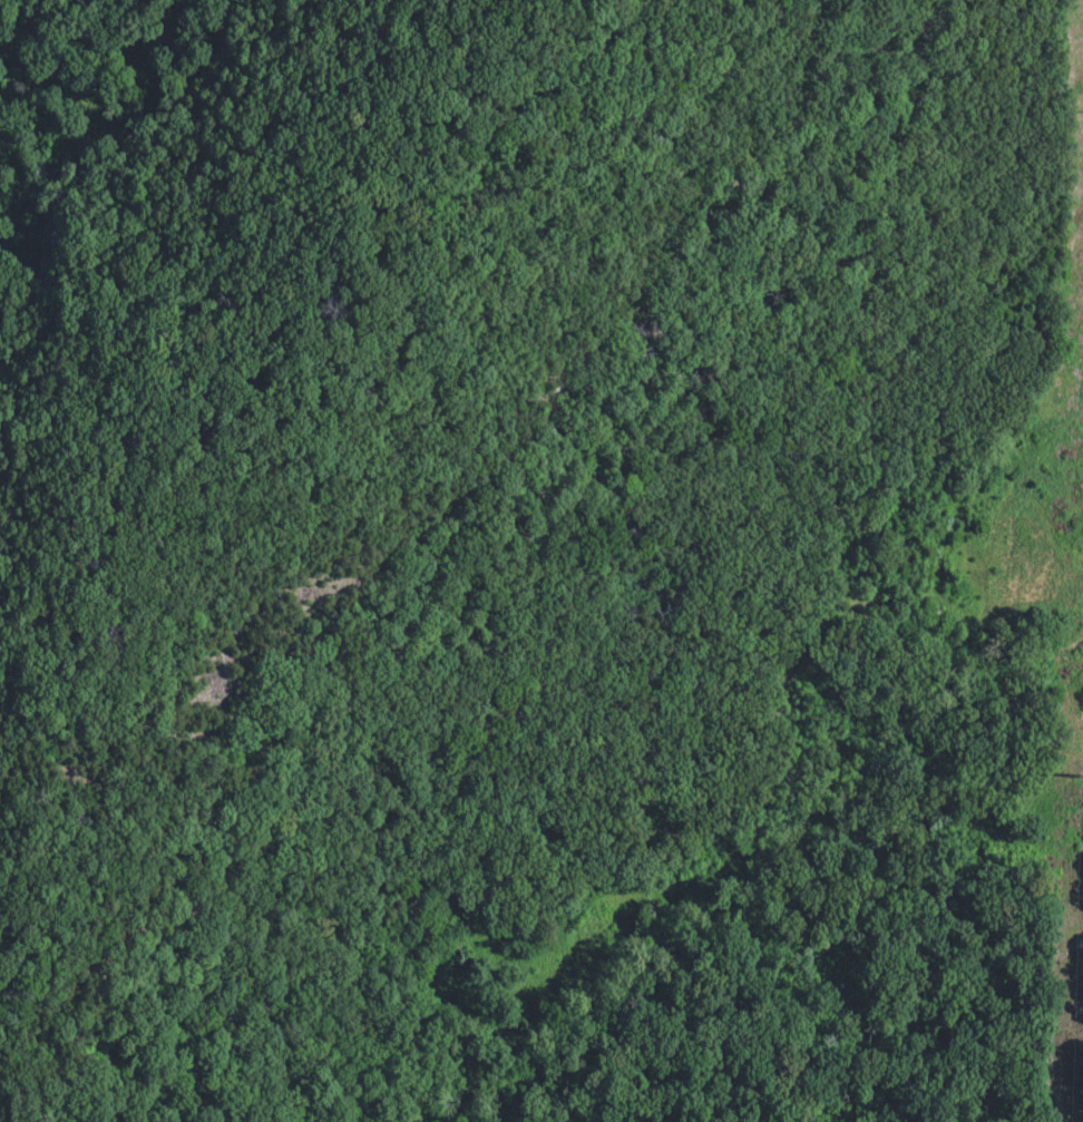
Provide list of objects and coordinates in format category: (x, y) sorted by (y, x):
power tower: (1082, 770)

